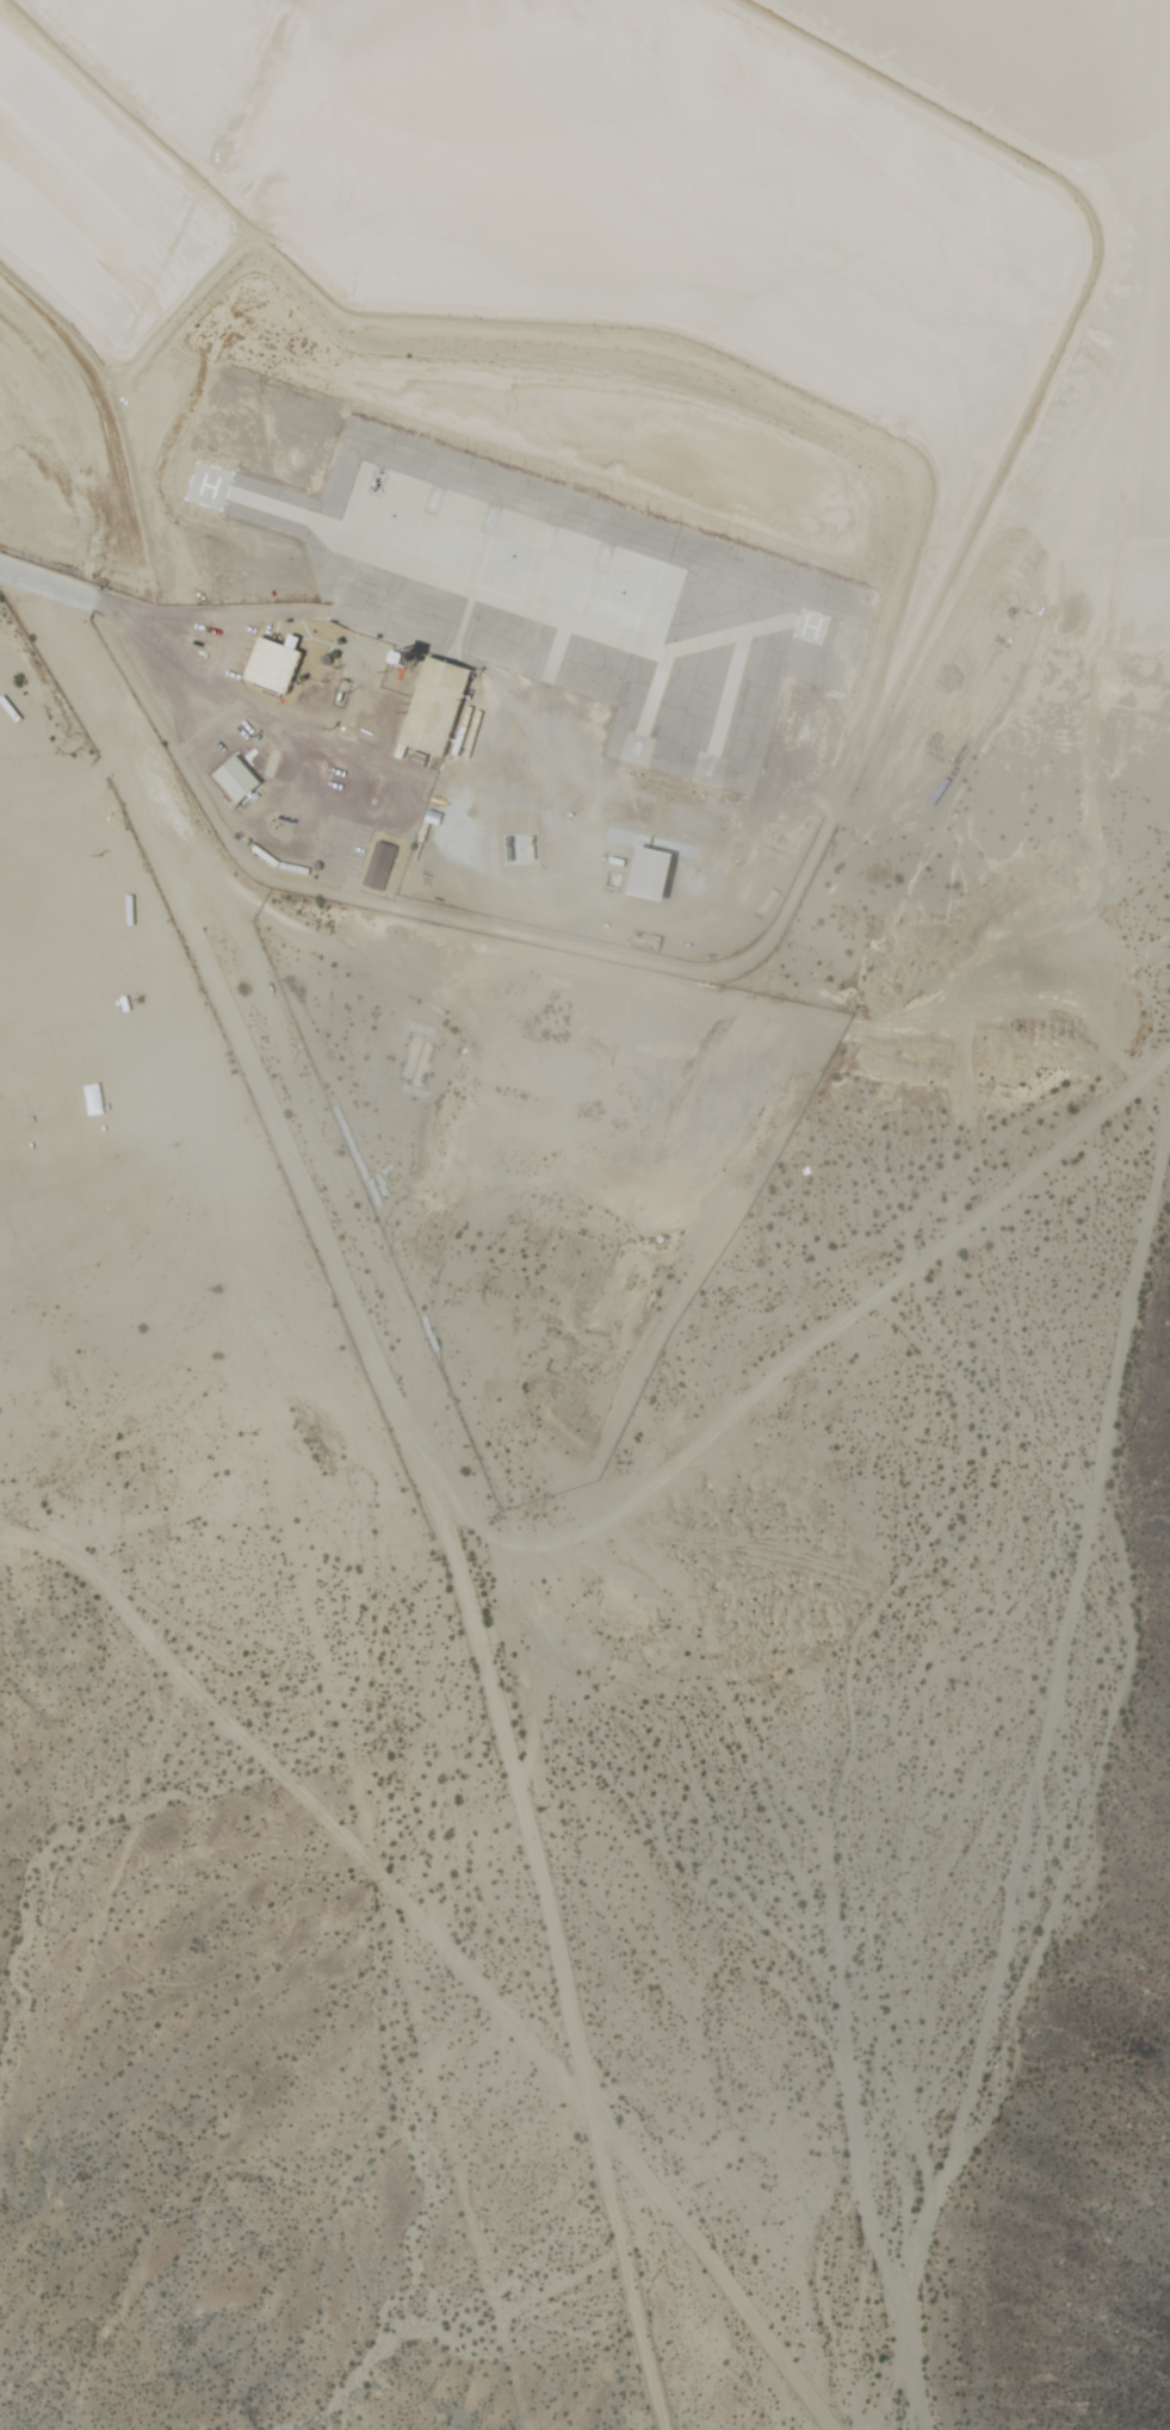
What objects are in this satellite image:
airport taxiway: (81, 211)
airport taxiway: (173, 303)
helipad: (208, 489)
airport taxiway: (333, 527)
airport taxiway: (360, 527)
airport taxiway: (416, 545)
airport taxiway: (475, 564)
airport taxiway: (406, 565)
road: (48, 583)
airport taxiway: (531, 583)
airport taxiway: (463, 584)
airport apron: (561, 596)
airport taxiway: (588, 602)
airport taxiway: (506, 603)
airport taxiway: (519, 603)
airport taxiway: (644, 621)
airport taxiway: (576, 622)
helipad: (810, 627)
airport taxiway: (745, 636)
airport taxiway: (632, 641)
airport taxiway: (661, 657)
building: (262, 663)
airport taxiway: (654, 692)
airport taxiway: (728, 693)
building: (431, 706)
parking lot: (347, 717)
road: (29, 738)
building: (1, 739)
road: (57, 763)
building: (229, 777)
parking lot: (339, 850)
building: (370, 866)
building: (642, 873)
building: (634, 941)
airport: (592, 963)
road: (355, 1325)
building: (812, 1496)
road: (626, 2270)

